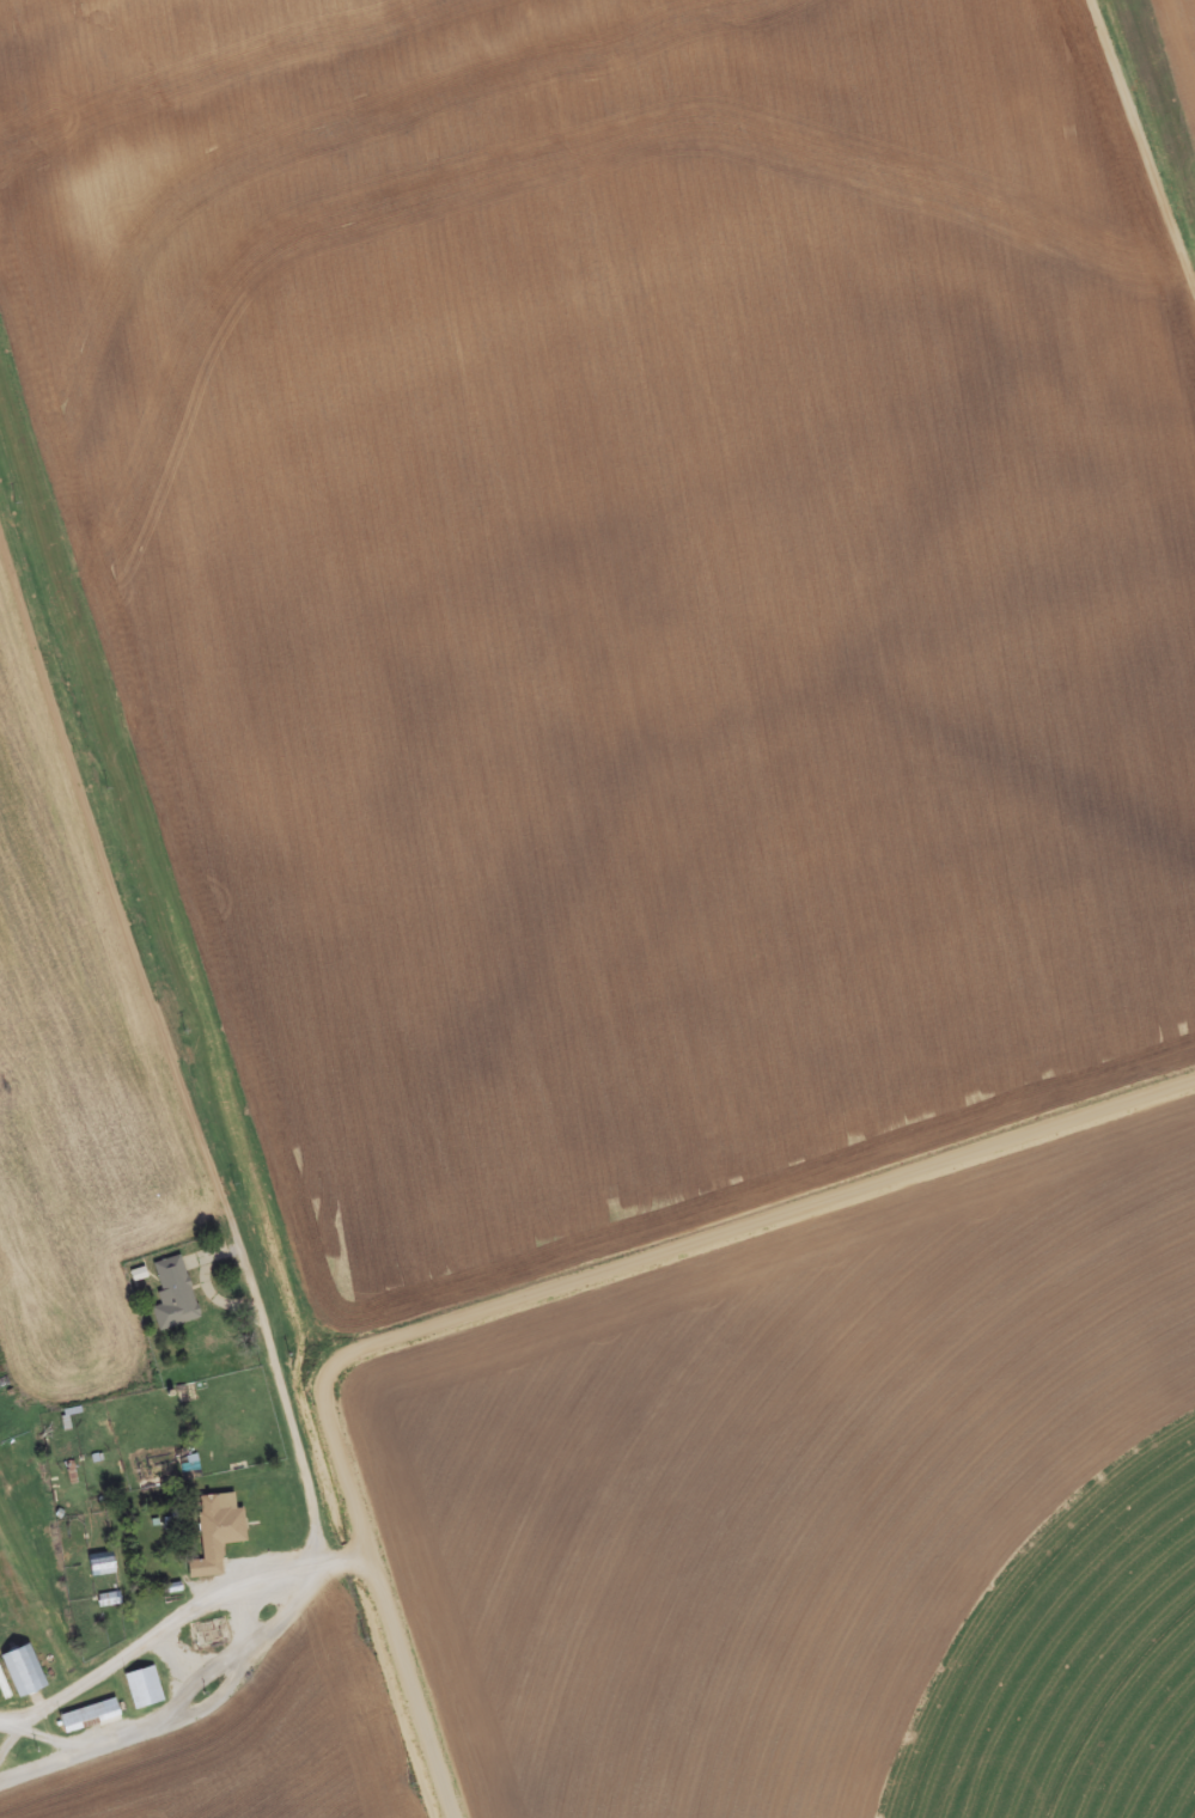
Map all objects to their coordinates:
road: (1128, 193)
road: (151, 1007)
road: (646, 1257)
building: (171, 1293)
building: (218, 1520)
building: (97, 1564)
building: (106, 1600)
building: (22, 1670)
building: (141, 1688)
road: (182, 1688)
road: (421, 1708)
building: (86, 1716)

